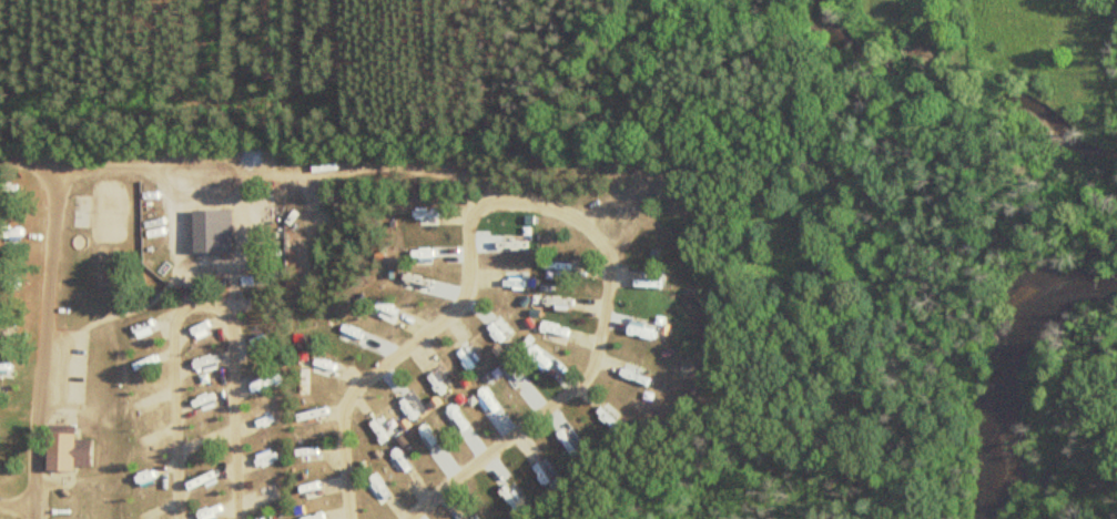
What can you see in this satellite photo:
road: (295, 208)
road: (602, 208)
building: (209, 231)
road: (200, 305)
road: (47, 345)
river: (1006, 372)
road: (542, 418)
building: (63, 452)

